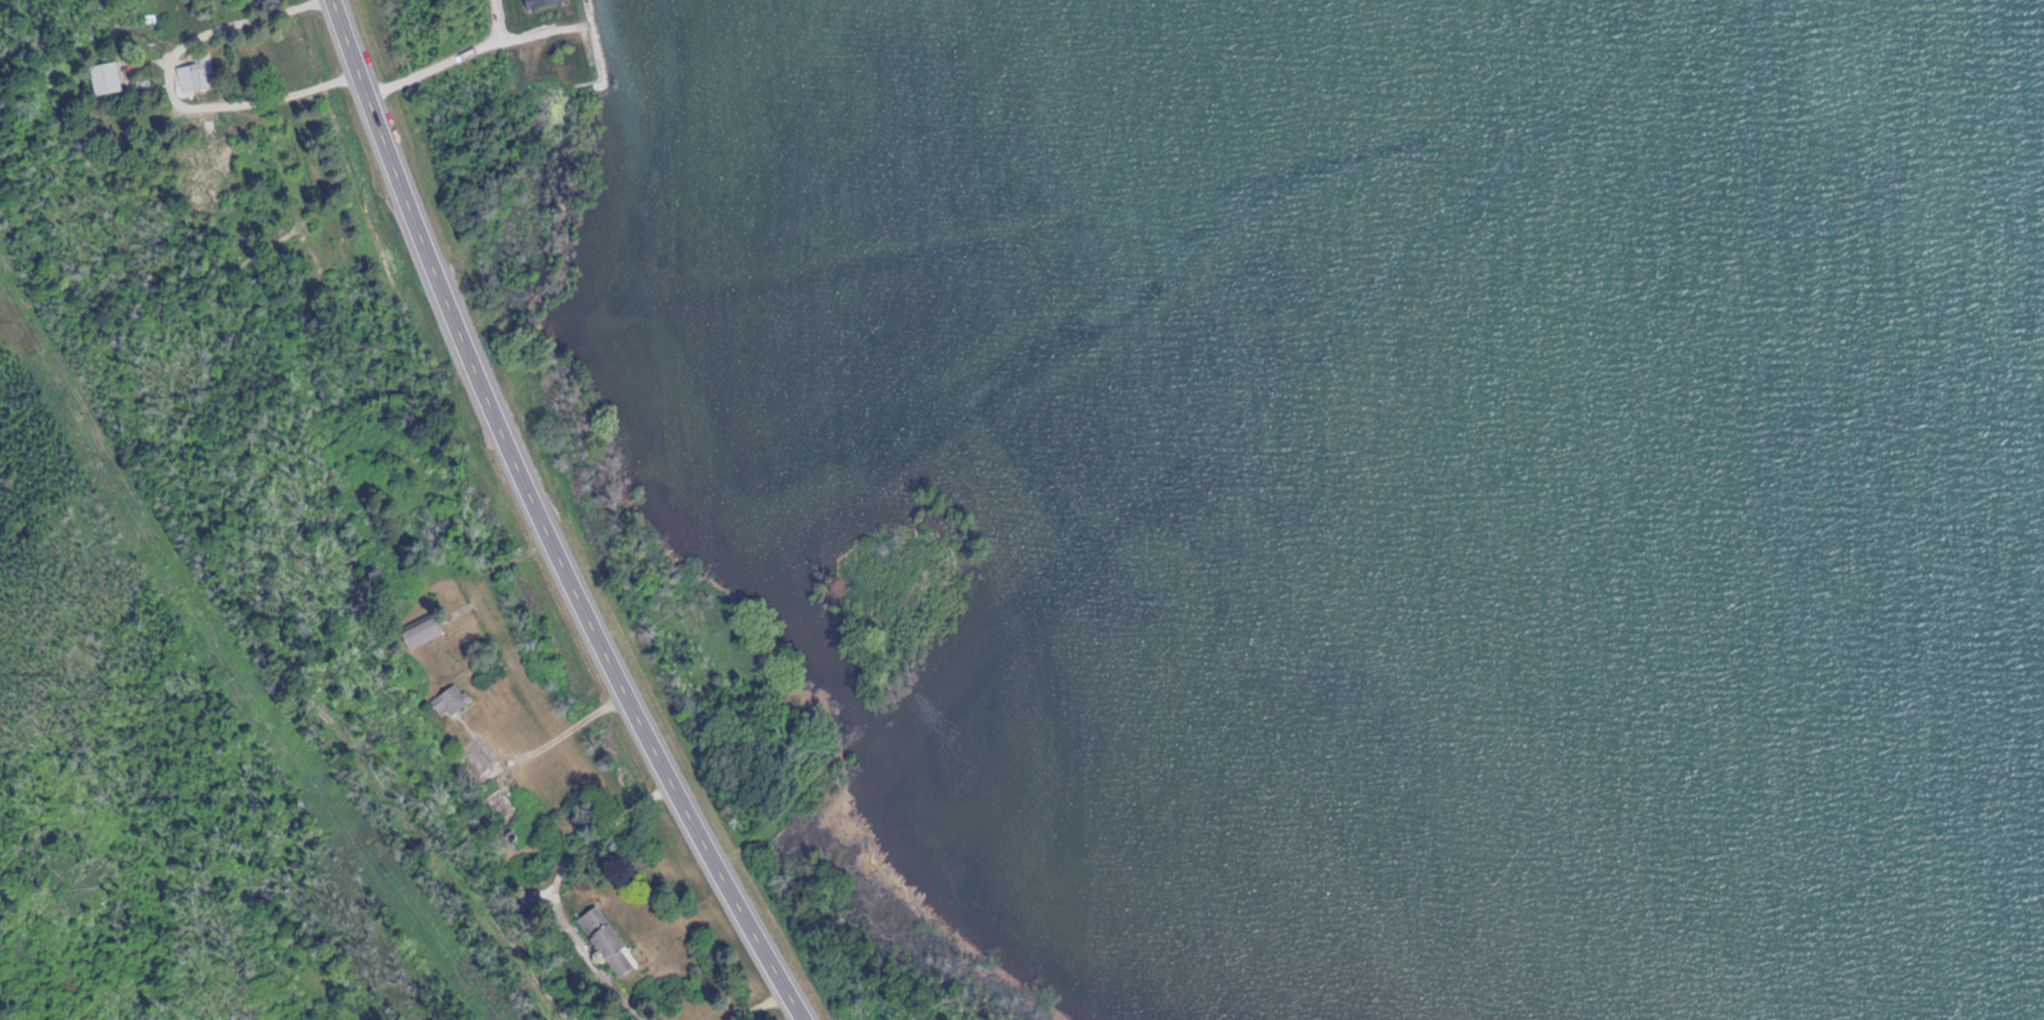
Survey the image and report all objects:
building: (199, 78)
building: (109, 80)
road: (536, 521)
building: (423, 633)
road: (507, 675)
building: (454, 704)
road: (581, 718)
road: (575, 893)
building: (609, 944)
road: (757, 1009)

